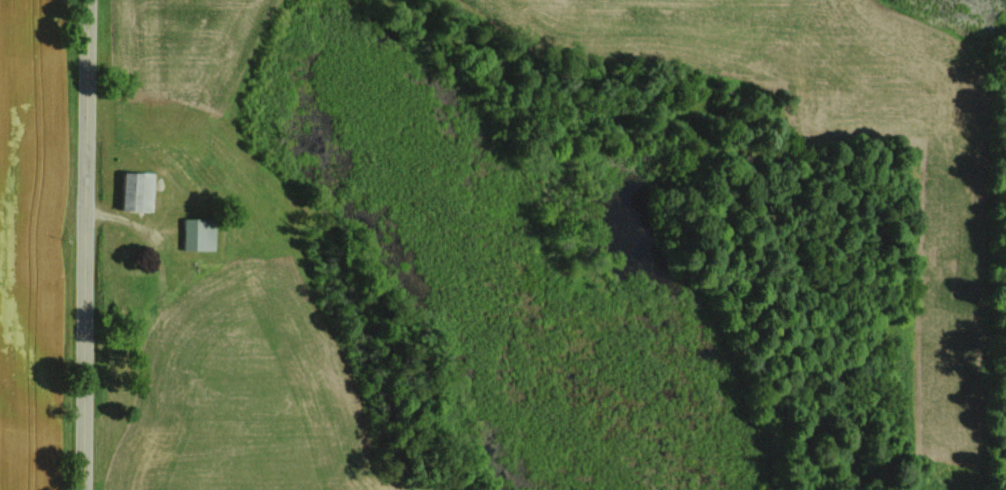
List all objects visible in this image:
building: (133, 191)
building: (190, 234)
road: (83, 245)
building: (136, 294)

